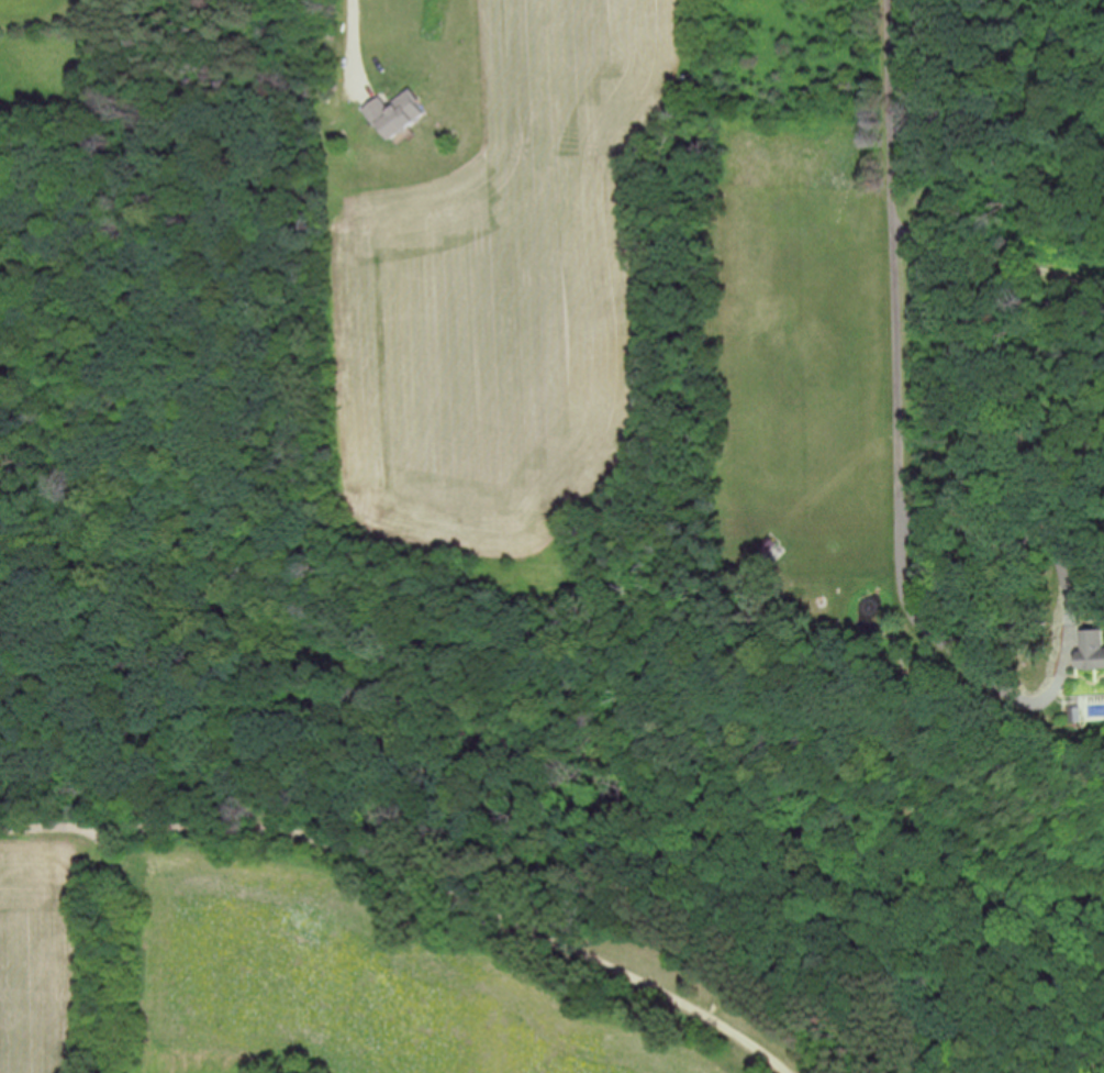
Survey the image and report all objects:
road: (355, 40)
building: (399, 113)
road: (1000, 258)
road: (897, 265)
building: (1, 486)
building: (1093, 650)
road: (1061, 670)
road: (417, 875)
road: (115, 949)

